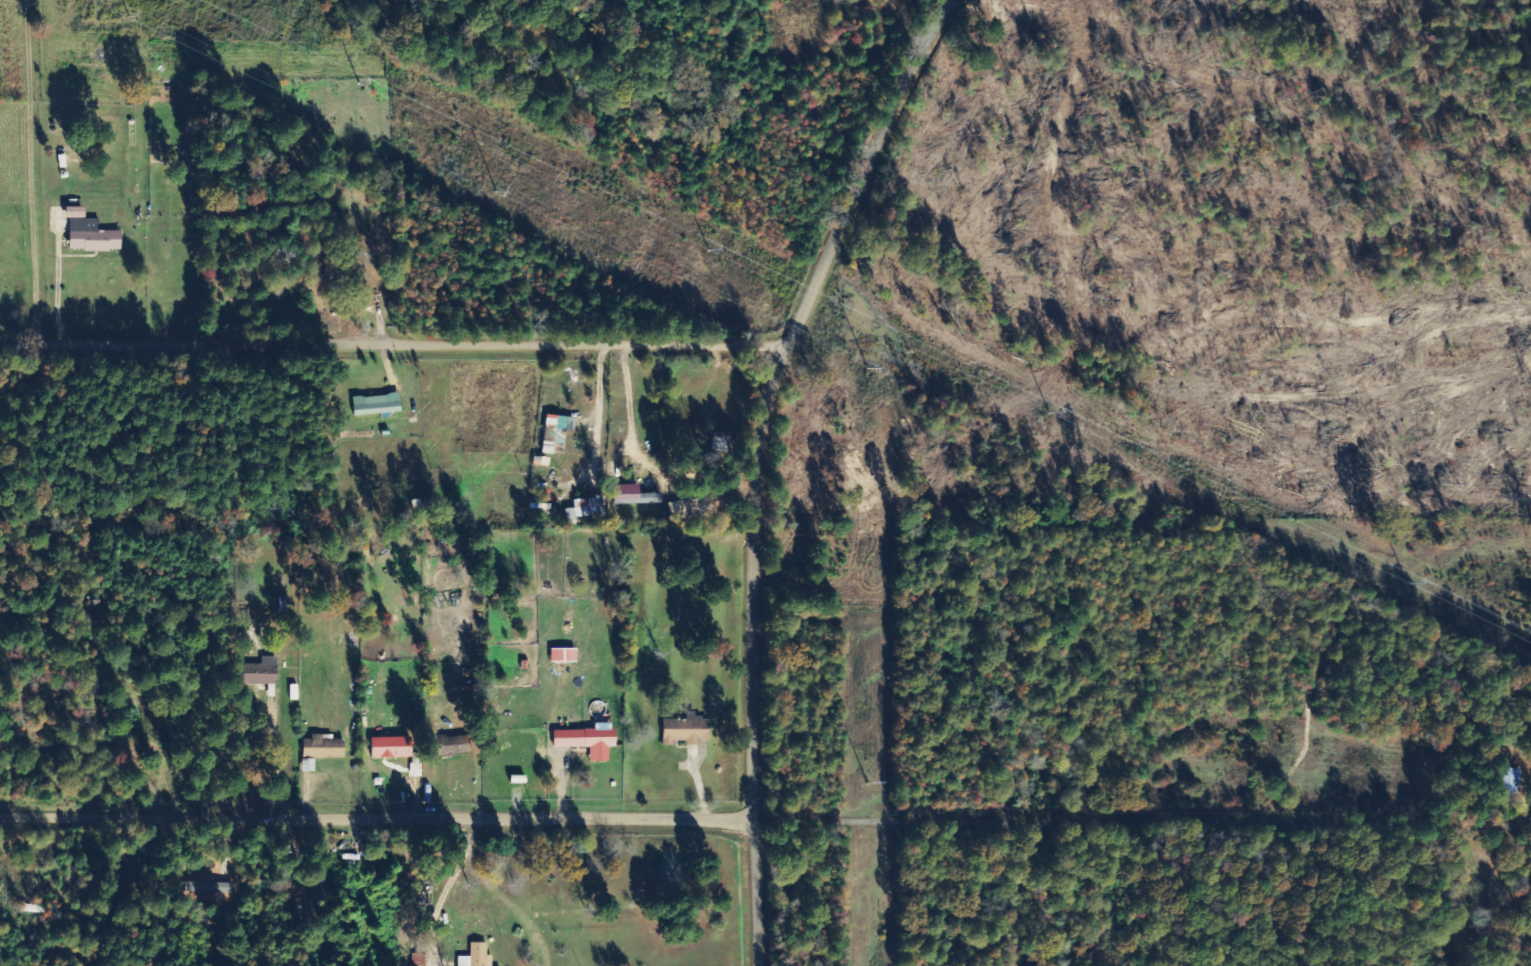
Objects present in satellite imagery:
building: (76, 213)
building: (93, 237)
road: (410, 345)
building: (377, 405)
road: (767, 461)
building: (634, 495)
building: (584, 509)
building: (690, 509)
building: (564, 655)
building: (262, 672)
building: (687, 730)
building: (588, 741)
building: (452, 746)
building: (323, 748)
building: (392, 748)
building: (308, 764)
road: (888, 770)
building: (1515, 781)
road: (890, 816)
road: (381, 818)
road: (827, 819)
road: (893, 862)
building: (477, 956)

